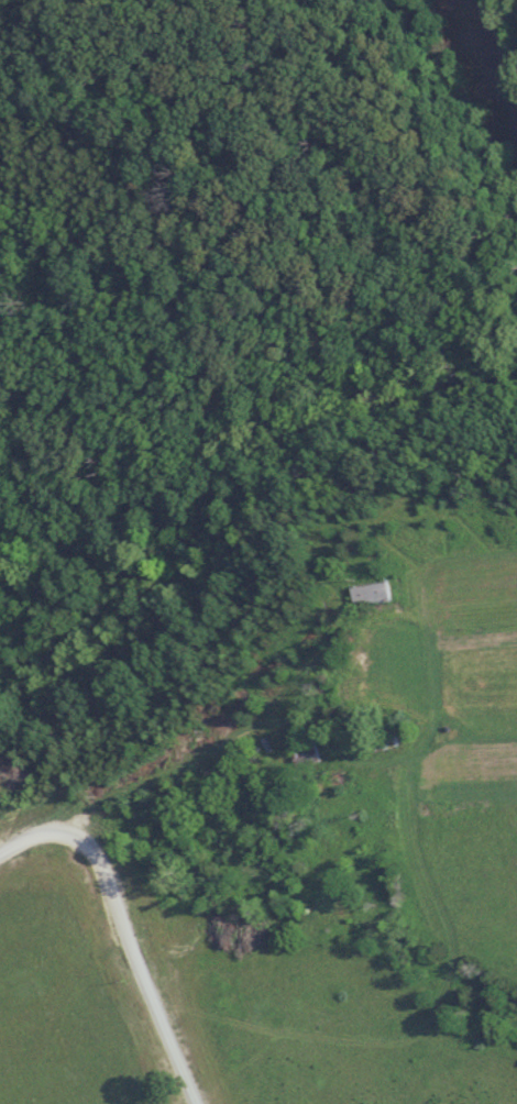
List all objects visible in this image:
river: (504, 37)
building: (365, 594)
road: (227, 736)
building: (370, 746)
building: (300, 751)
road: (120, 928)

